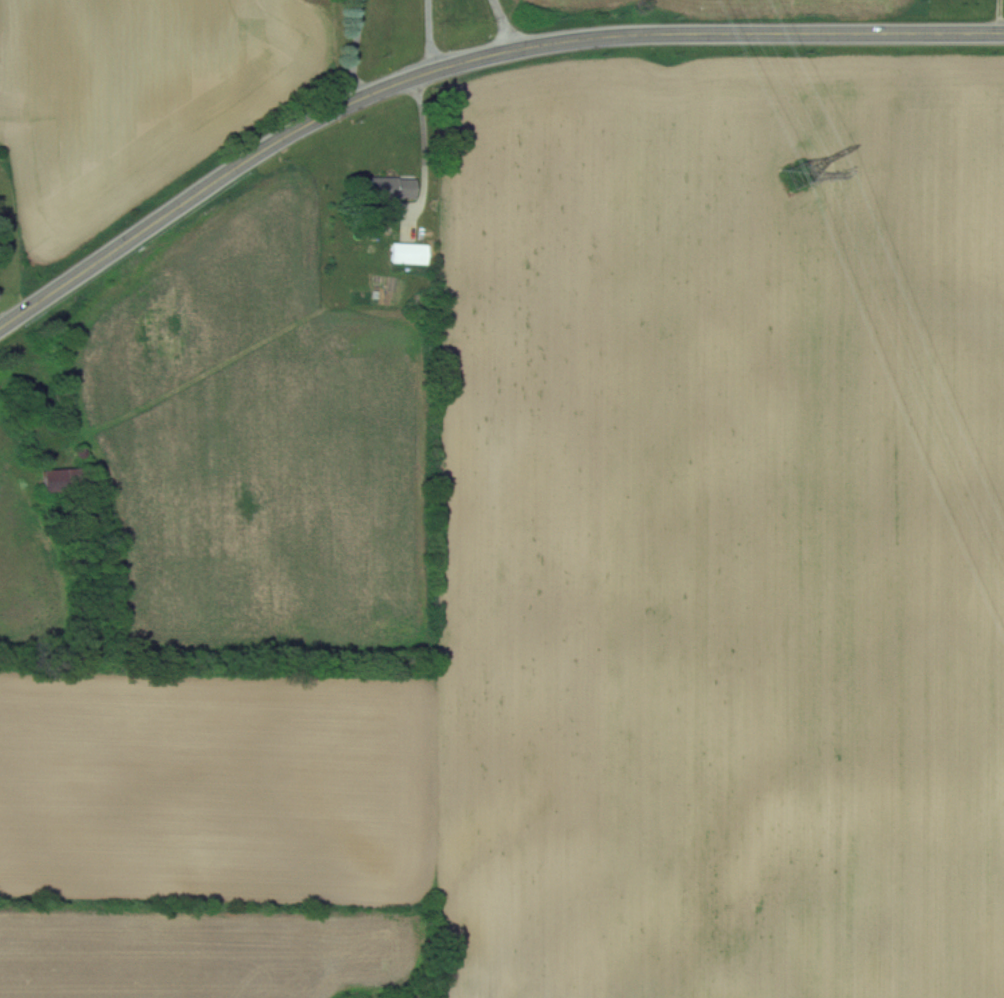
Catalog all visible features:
road: (999, 16)
road: (429, 35)
road: (355, 49)
road: (466, 60)
road: (425, 149)
power tower: (810, 162)
building: (390, 187)
building: (406, 253)
building: (65, 478)

